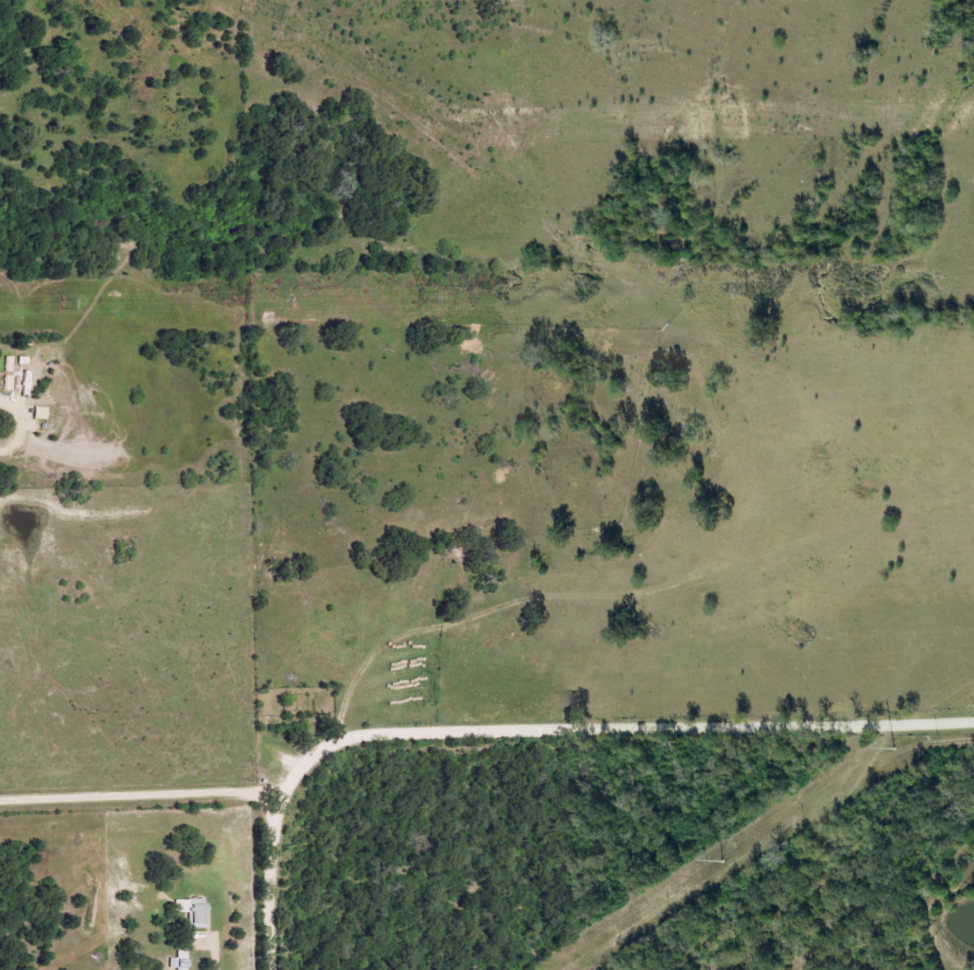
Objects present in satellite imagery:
power tower: (746, 290)
power tower: (419, 298)
power tower: (59, 304)
road: (527, 731)
power tower: (893, 750)
road: (140, 794)
power tower: (722, 862)
building: (194, 911)
building: (179, 961)

